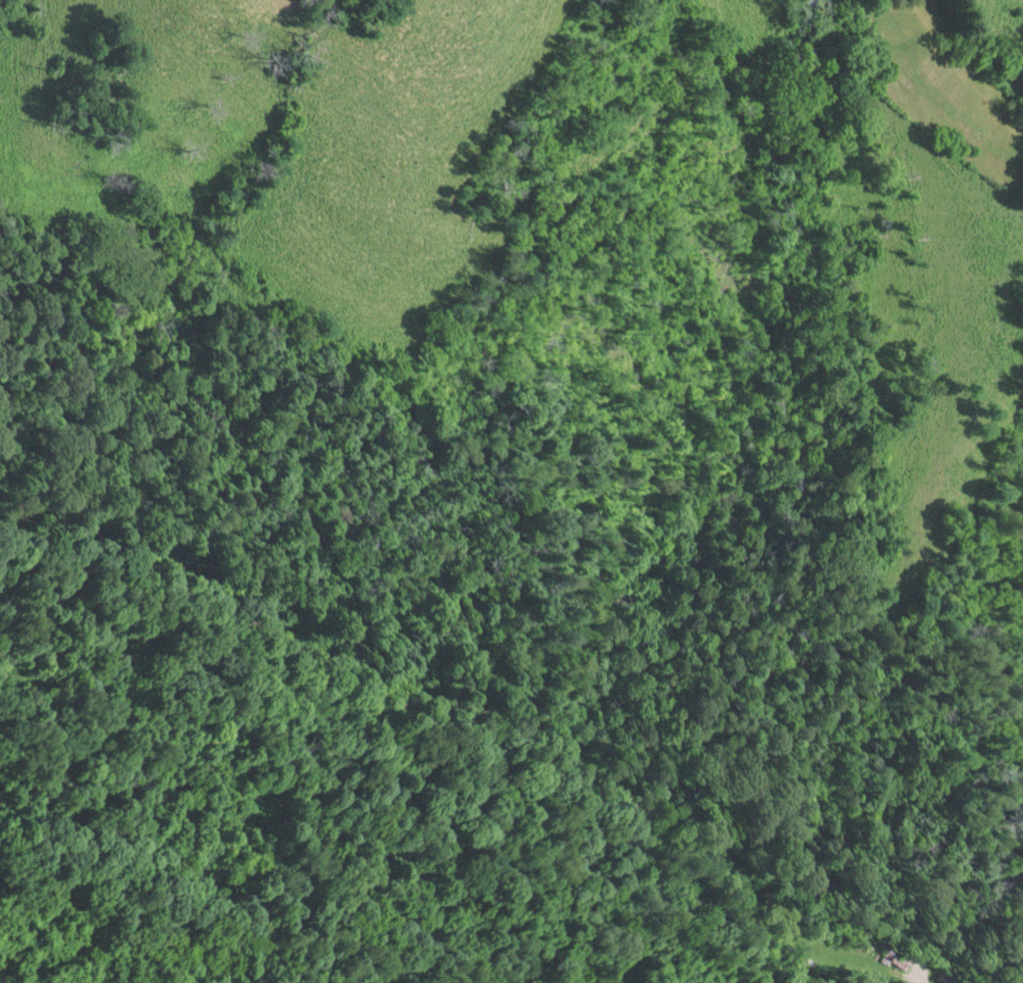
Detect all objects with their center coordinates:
building: (896, 954)
building: (961, 979)

